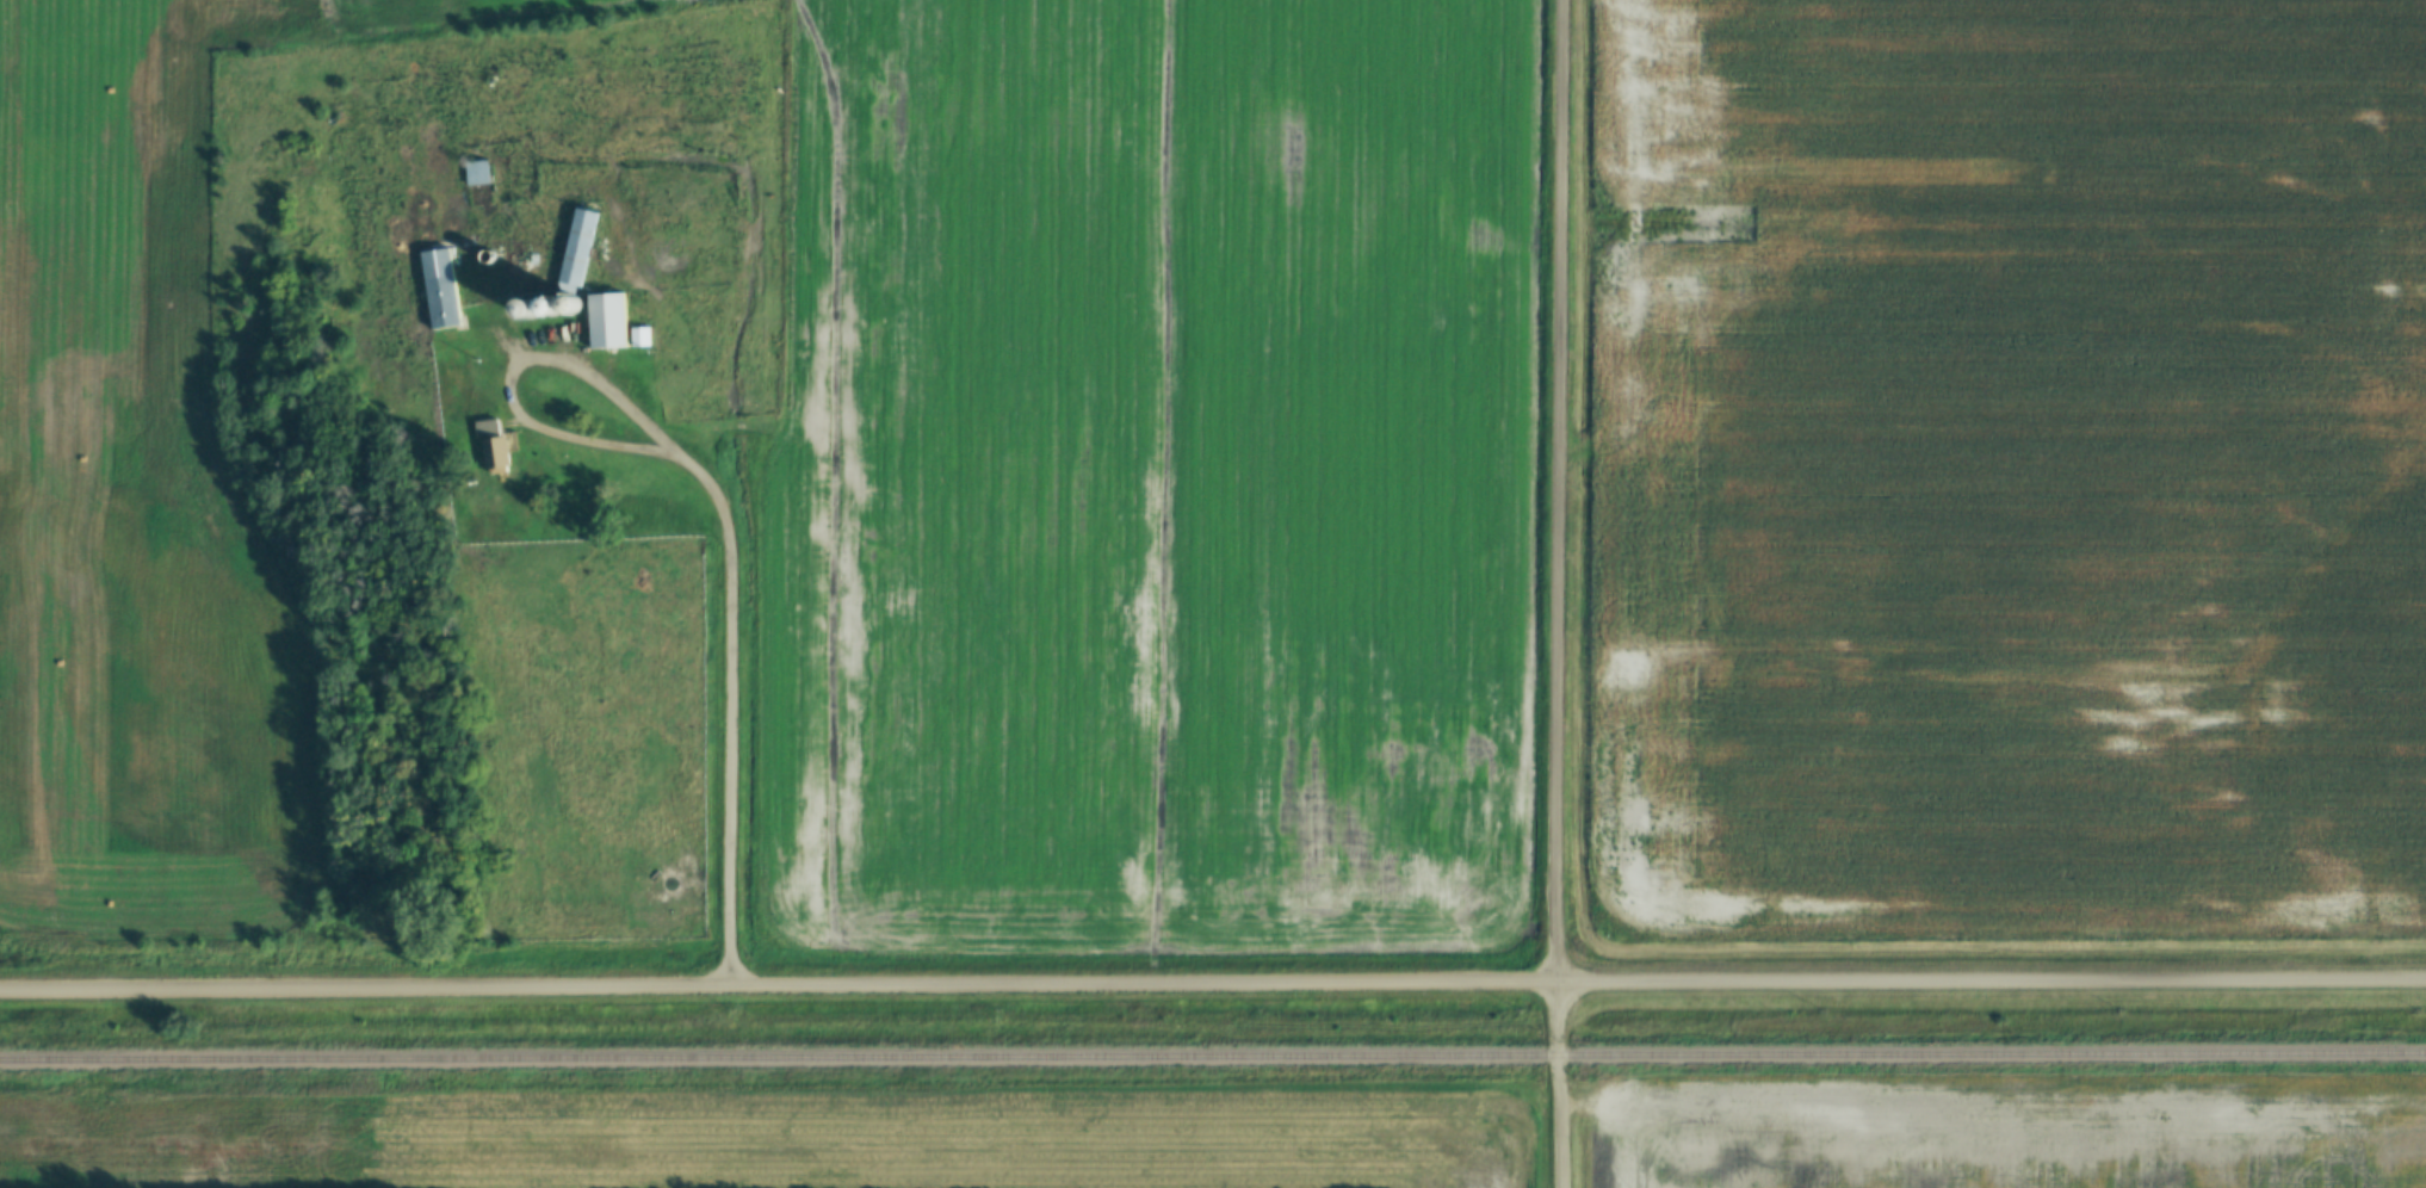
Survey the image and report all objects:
building: (478, 185)
building: (576, 252)
building: (441, 290)
building: (606, 322)
building: (494, 450)
road: (1564, 594)
road: (736, 608)
road: (1213, 984)
railway: (1212, 1058)

